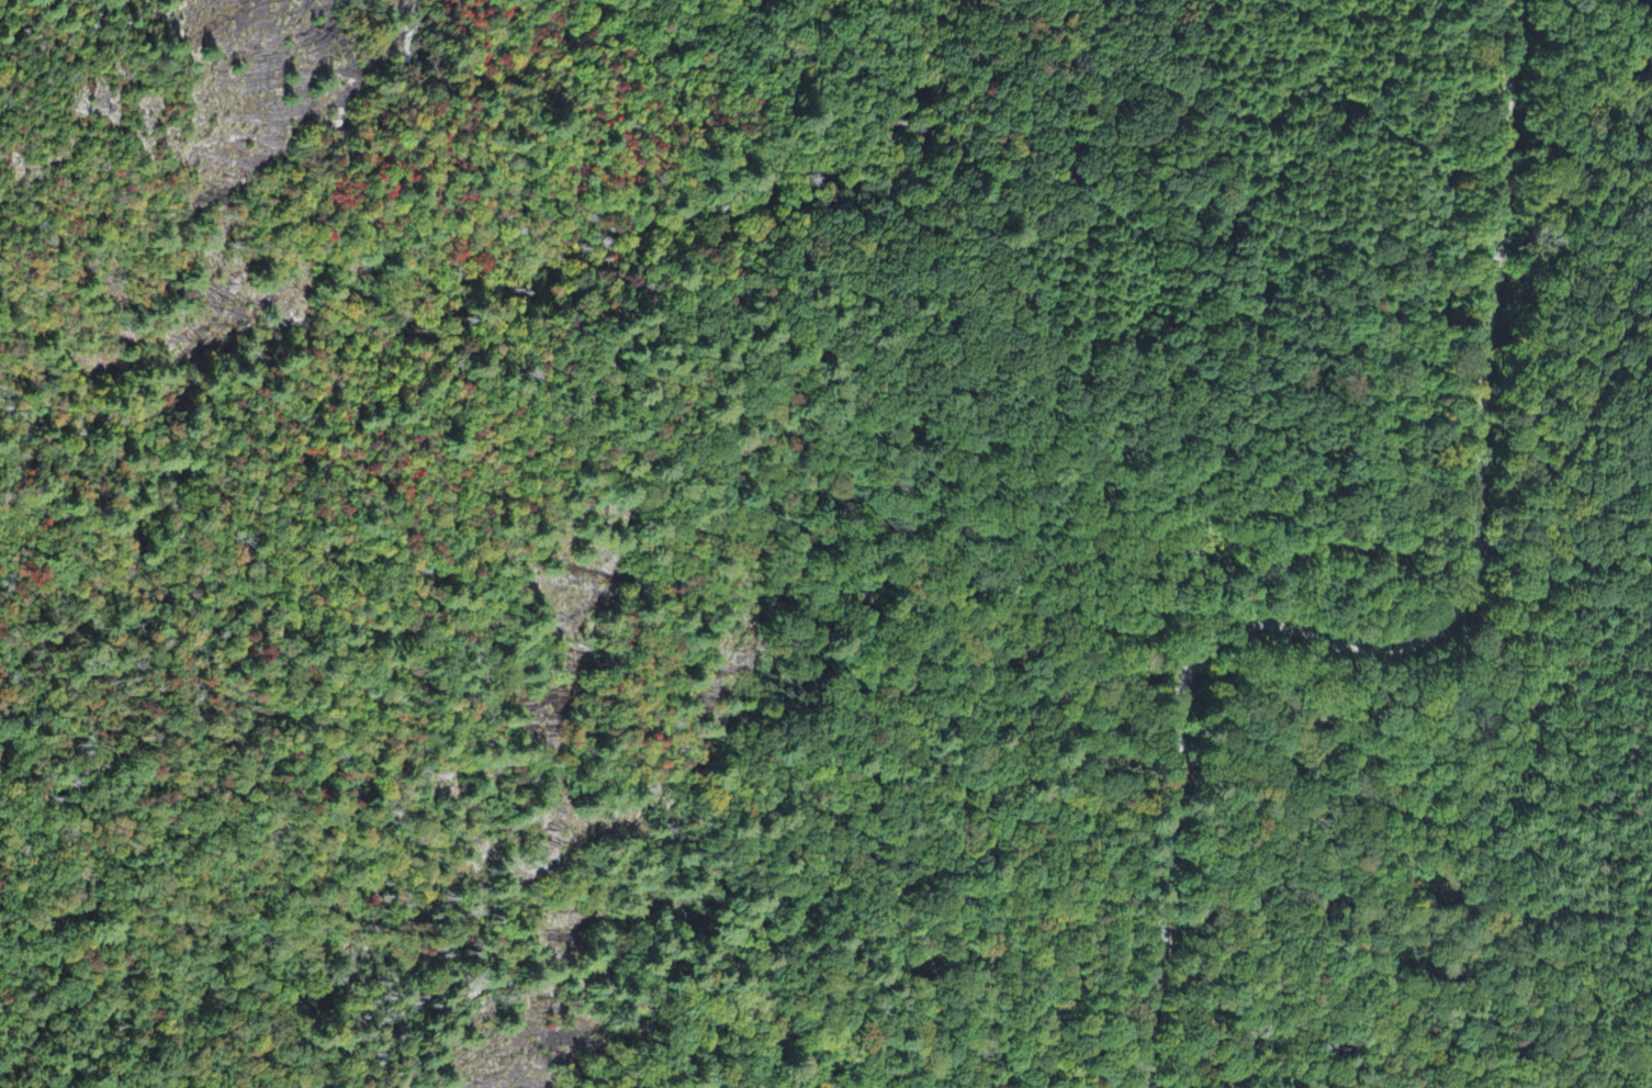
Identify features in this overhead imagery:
road: (1412, 641)

